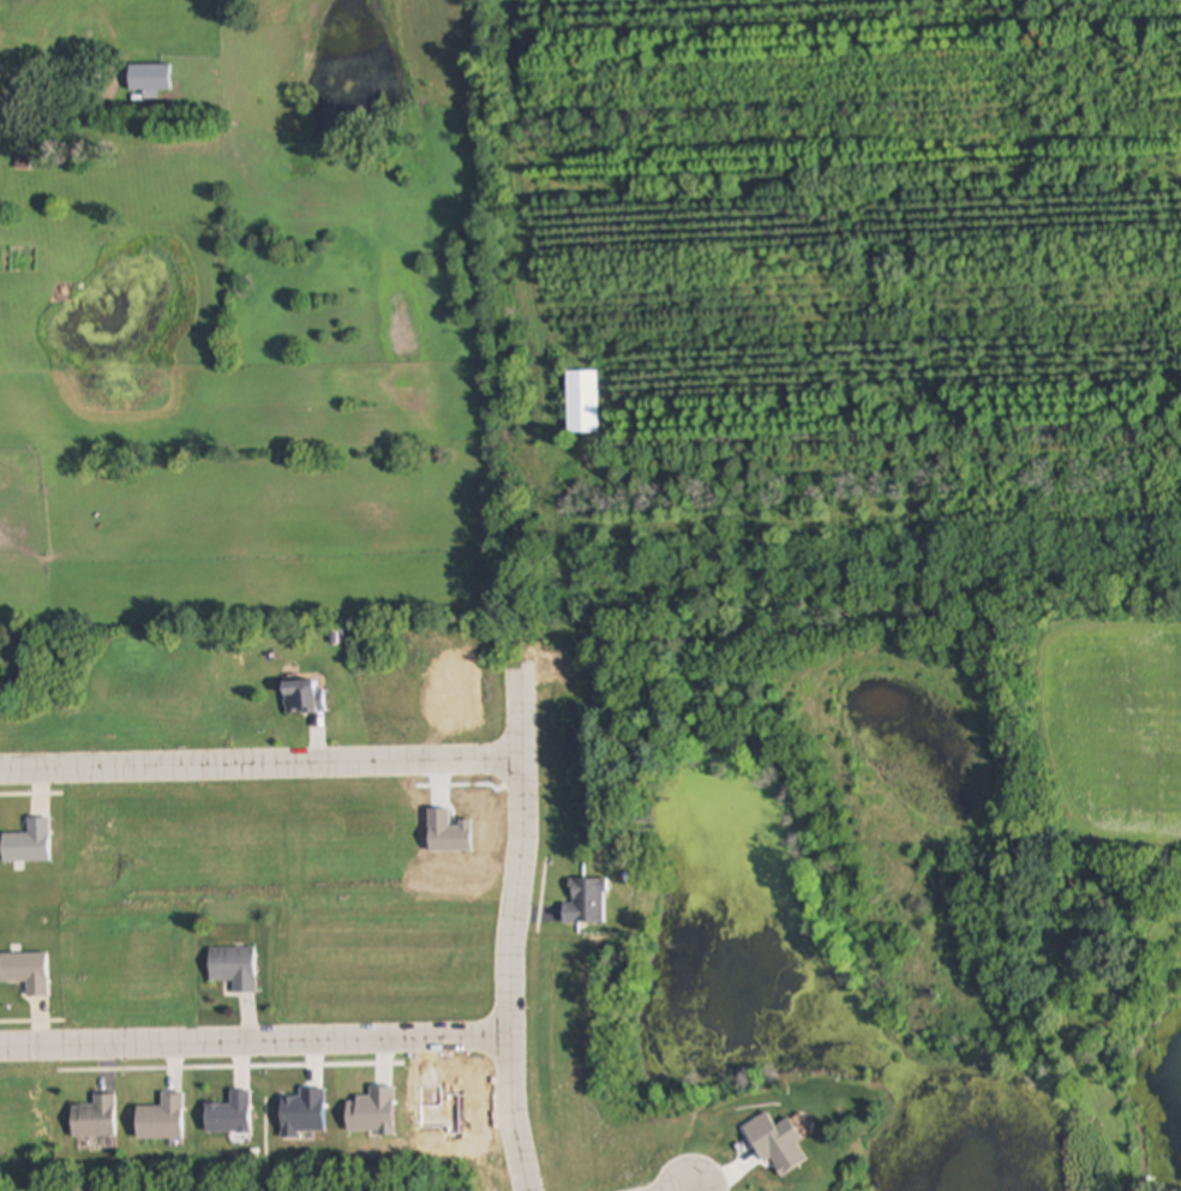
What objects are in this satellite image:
building: (304, 699)
road: (262, 764)
building: (586, 902)
road: (511, 927)
building: (234, 966)
road: (254, 1041)
building: (95, 1118)

